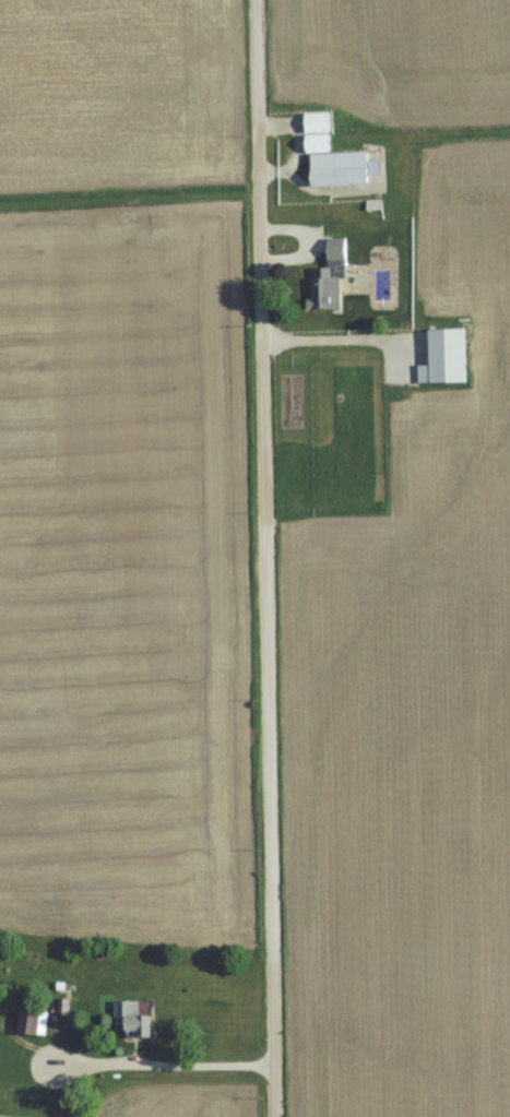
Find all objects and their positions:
building: (324, 154)
building: (331, 249)
building: (315, 287)
road: (339, 331)
road: (263, 558)
building: (0, 1011)
building: (141, 1017)
building: (38, 1020)
road: (159, 1056)

